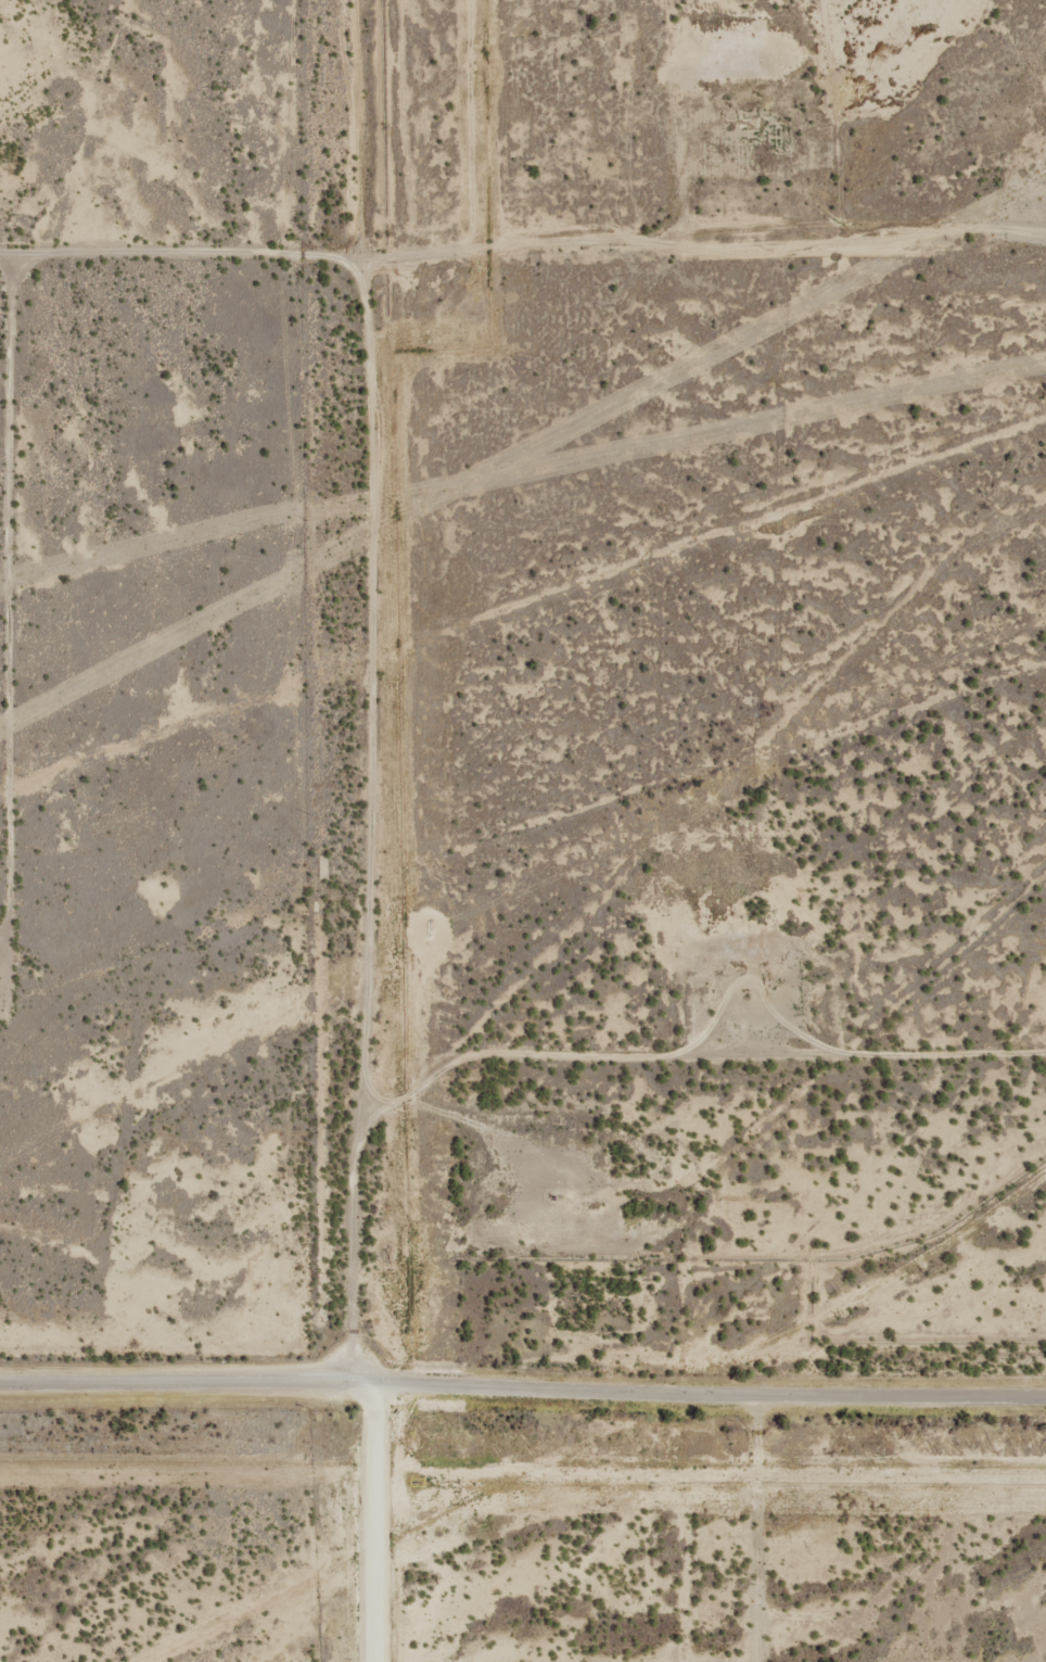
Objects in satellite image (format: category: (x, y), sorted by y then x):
road: (356, 698)
road: (523, 1394)

